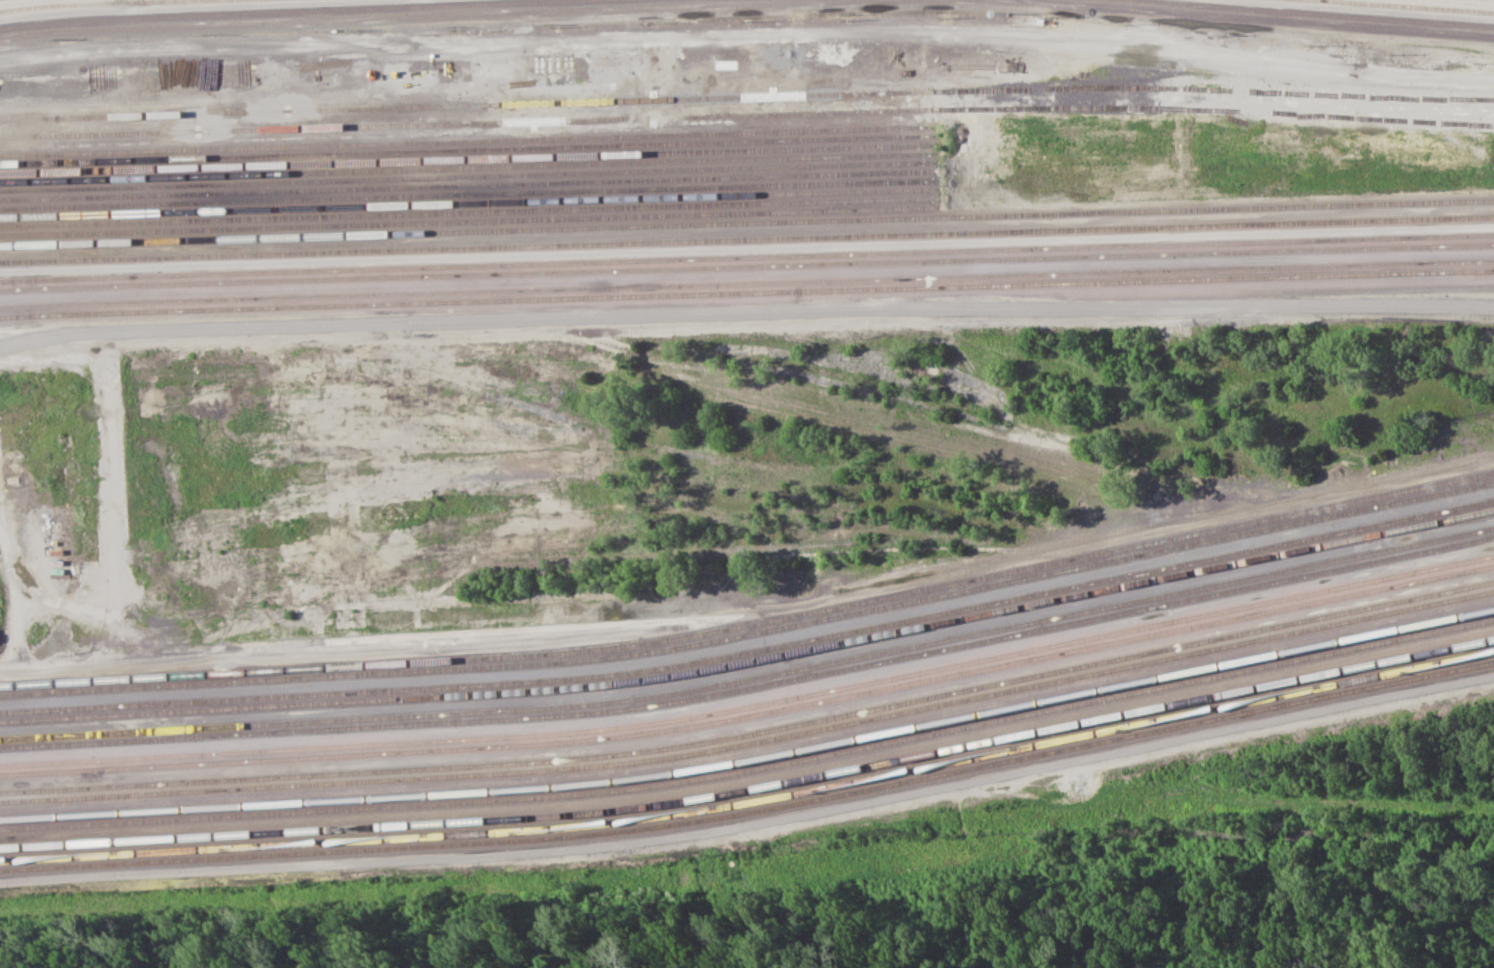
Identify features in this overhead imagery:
railway: (7, 0)
railway: (1475, 1)
railway: (94, 4)
railway: (1410, 6)
railway: (279, 10)
railway: (1320, 13)
railway: (414, 16)
railway: (1236, 17)
railway: (468, 106)
railway: (469, 123)
railway: (469, 131)
railway: (470, 140)
railway: (470, 150)
railway: (470, 159)
railway: (470, 167)
railway: (470, 177)
railway: (471, 185)
railway: (471, 195)
railway: (471, 204)
railway: (1219, 208)
railway: (472, 212)
railway: (472, 221)
railway: (472, 231)
railway: (747, 239)
road: (961, 242)
railway: (746, 258)
railway: (746, 266)
railway: (746, 284)
railway: (746, 293)
road: (746, 313)
railway: (1300, 522)
road: (15, 605)
railway: (753, 625)
railway: (753, 651)
railway: (753, 660)
railway: (557, 662)
railway: (752, 676)
railway: (753, 688)
railway: (753, 705)
railway: (753, 714)
railway: (752, 732)
railway: (753, 742)
railway: (752, 759)
railway: (753, 768)
railway: (752, 788)
railway: (753, 801)
railway: (753, 811)
park: (817, 923)

